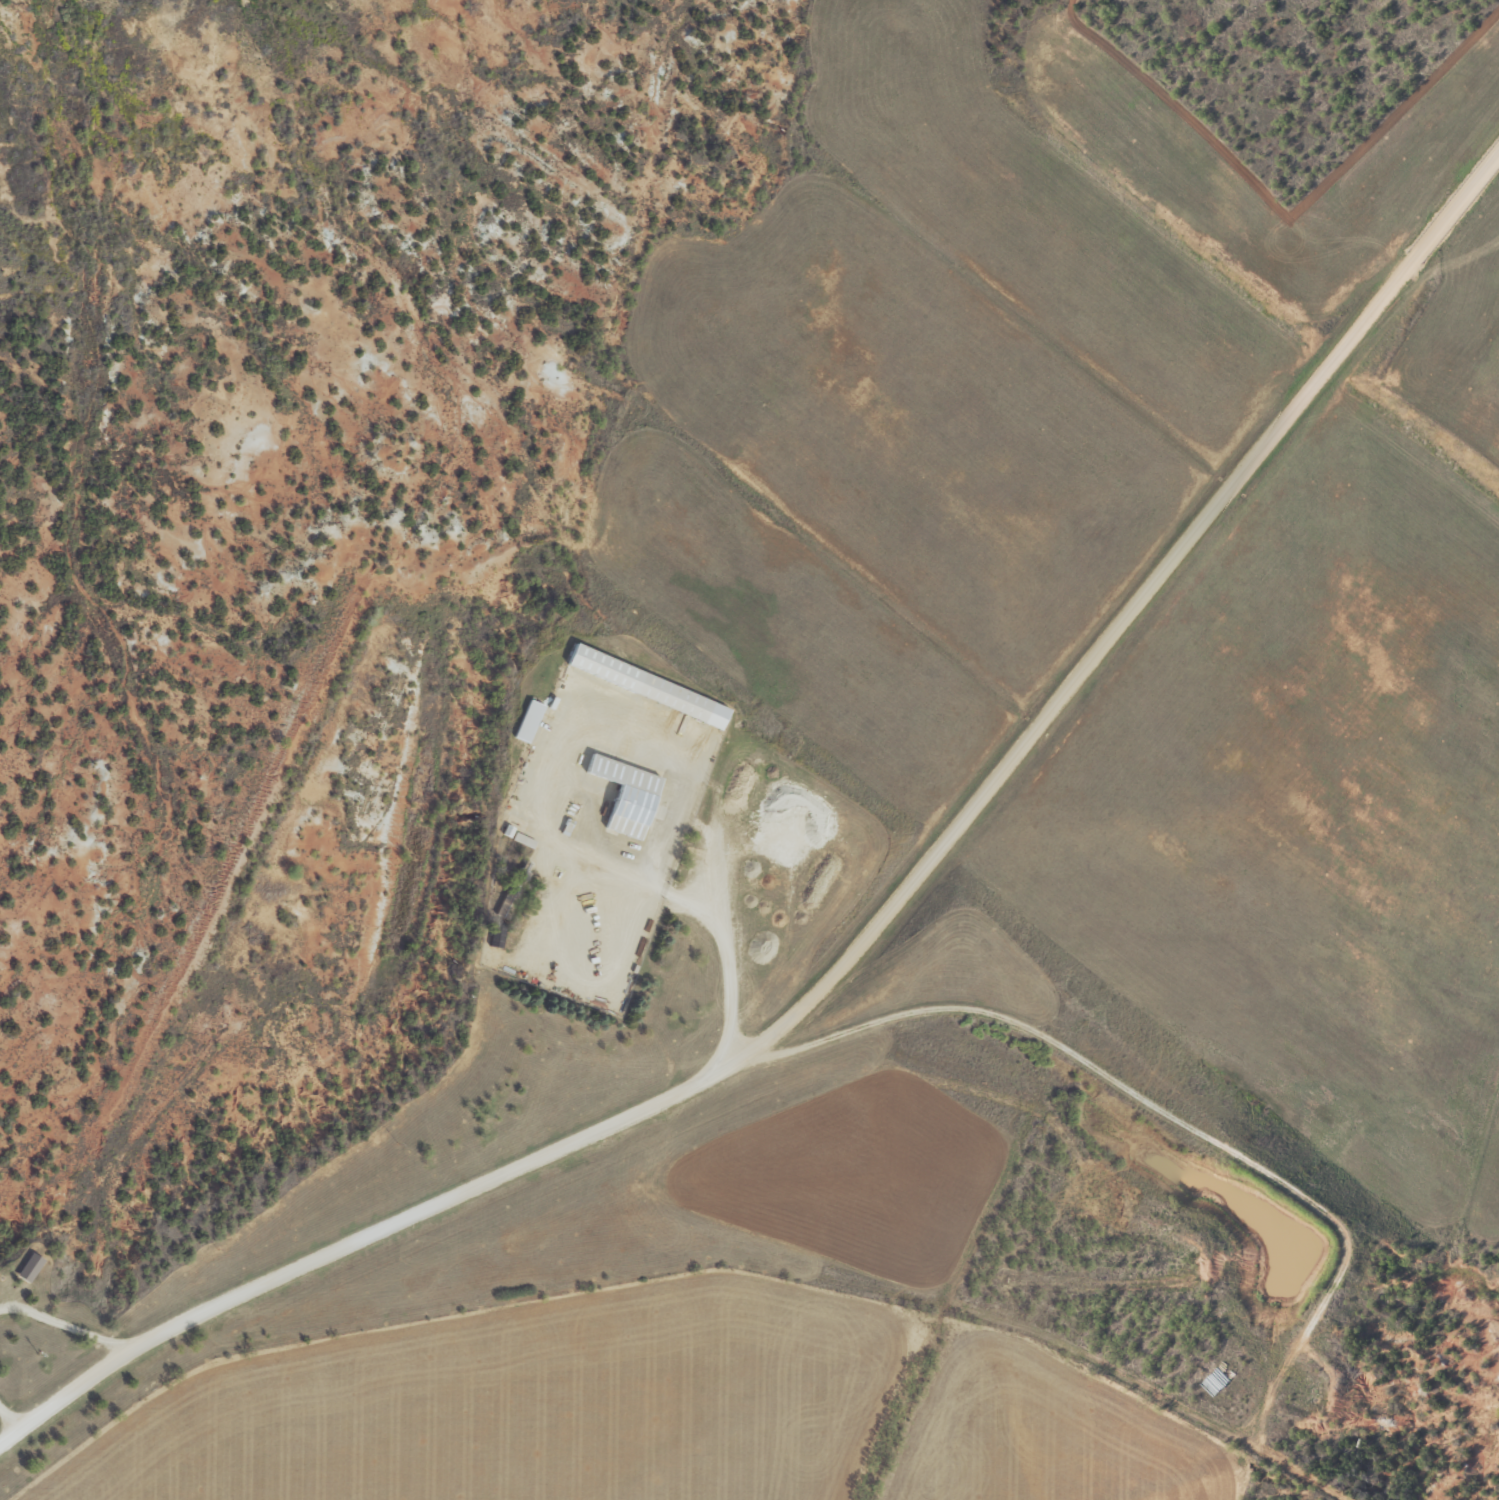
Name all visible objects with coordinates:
building: (651, 687)
building: (531, 723)
building: (630, 797)
building: (526, 842)
road: (861, 944)
building: (34, 1270)
road: (9, 1421)

